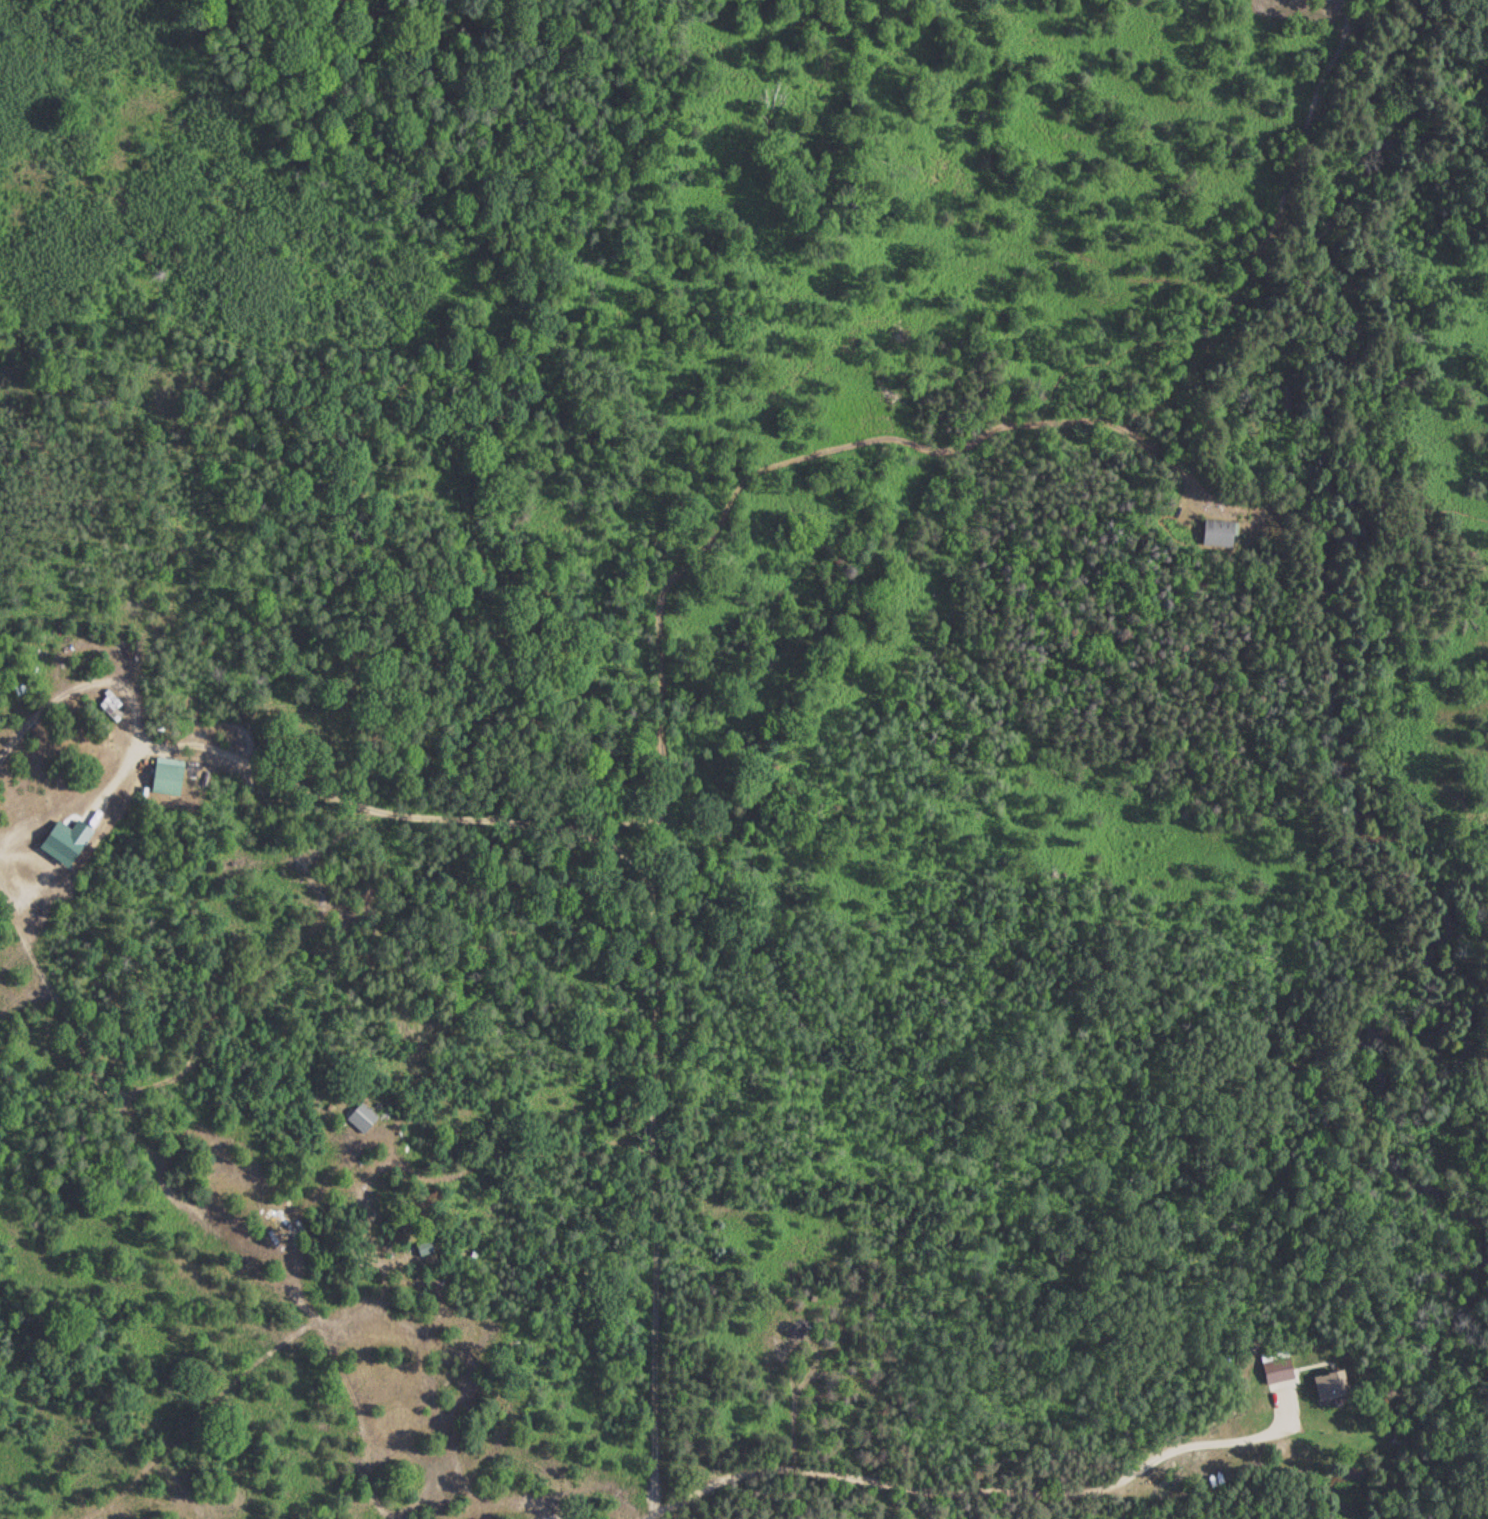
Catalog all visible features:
building: (1215, 533)
road: (282, 707)
road: (723, 745)
building: (164, 776)
building: (60, 843)
building: (359, 1118)
building: (1274, 1370)
building: (1327, 1386)

